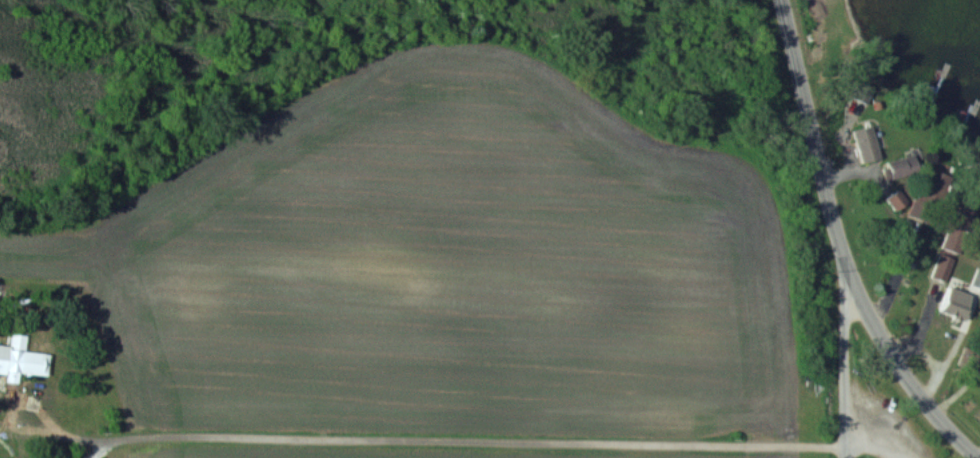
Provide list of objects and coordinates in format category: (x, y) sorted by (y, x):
building: (861, 92)
building: (865, 143)
building: (899, 167)
building: (896, 200)
building: (925, 200)
building: (951, 242)
road: (840, 247)
building: (954, 301)
building: (20, 360)
road: (846, 372)
road: (455, 439)
road: (863, 453)

